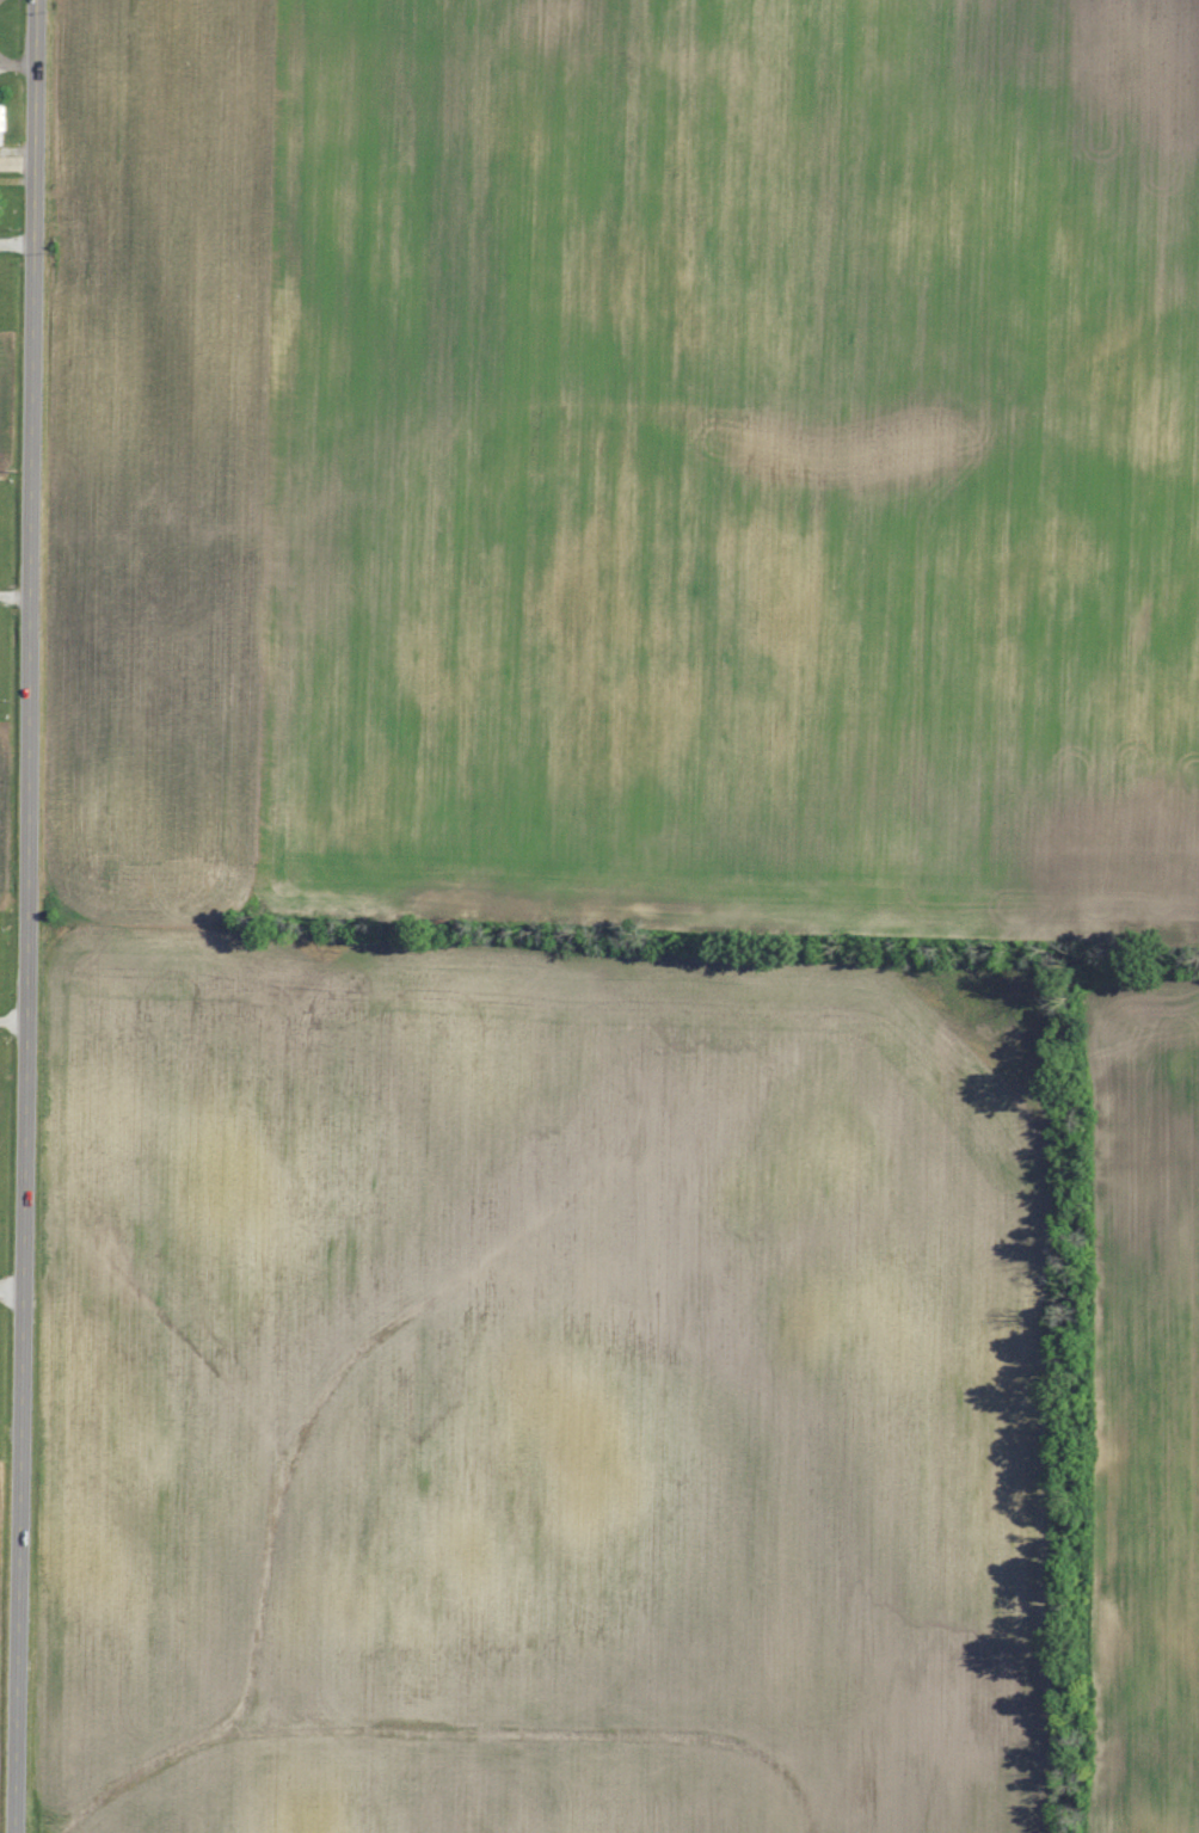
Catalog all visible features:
road: (5, 61)
road: (18, 66)
building: (2, 127)
road: (27, 916)
road: (11, 1298)

